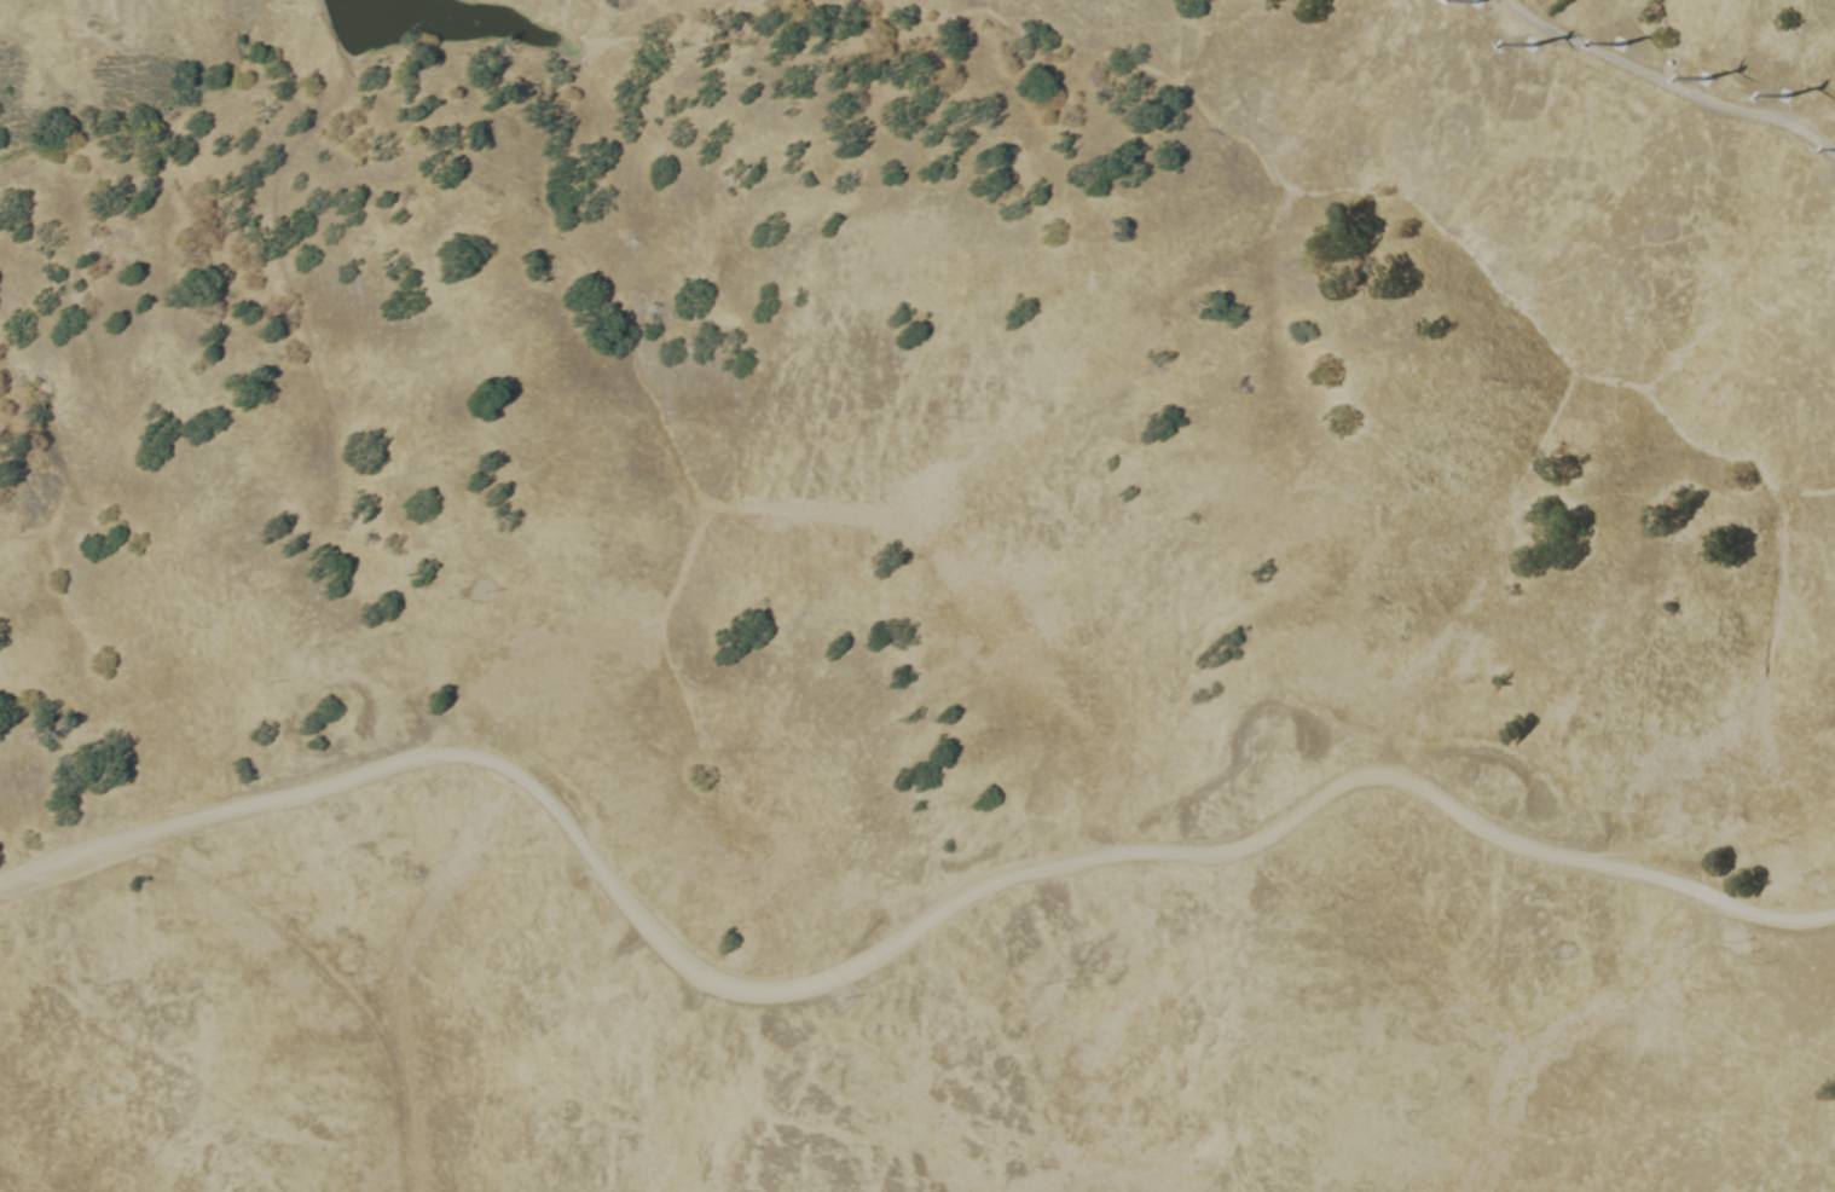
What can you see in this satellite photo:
wind turbine: (1487, 2)
wind turbine: (1535, 39)
wind turbine: (1620, 40)
wind turbine: (1707, 73)
road: (1668, 83)
wind turbine: (1784, 93)
road: (891, 947)

